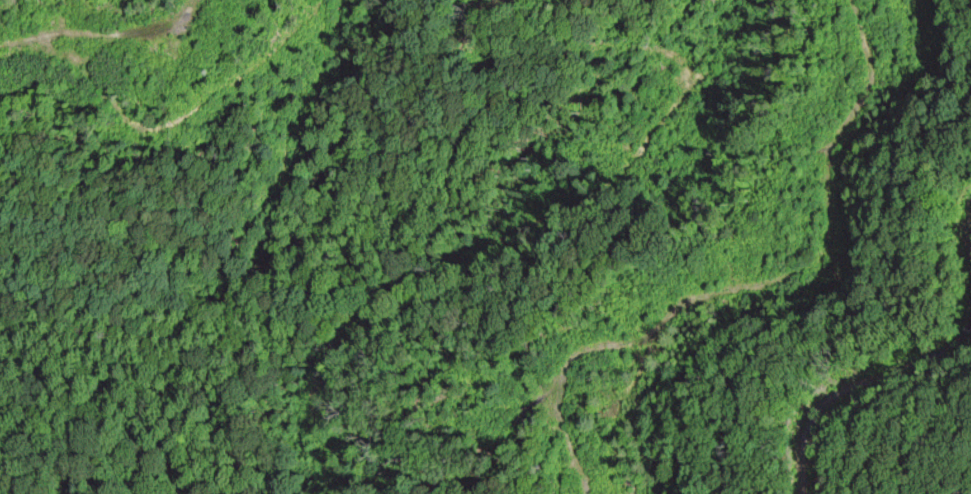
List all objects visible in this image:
road: (911, 358)

